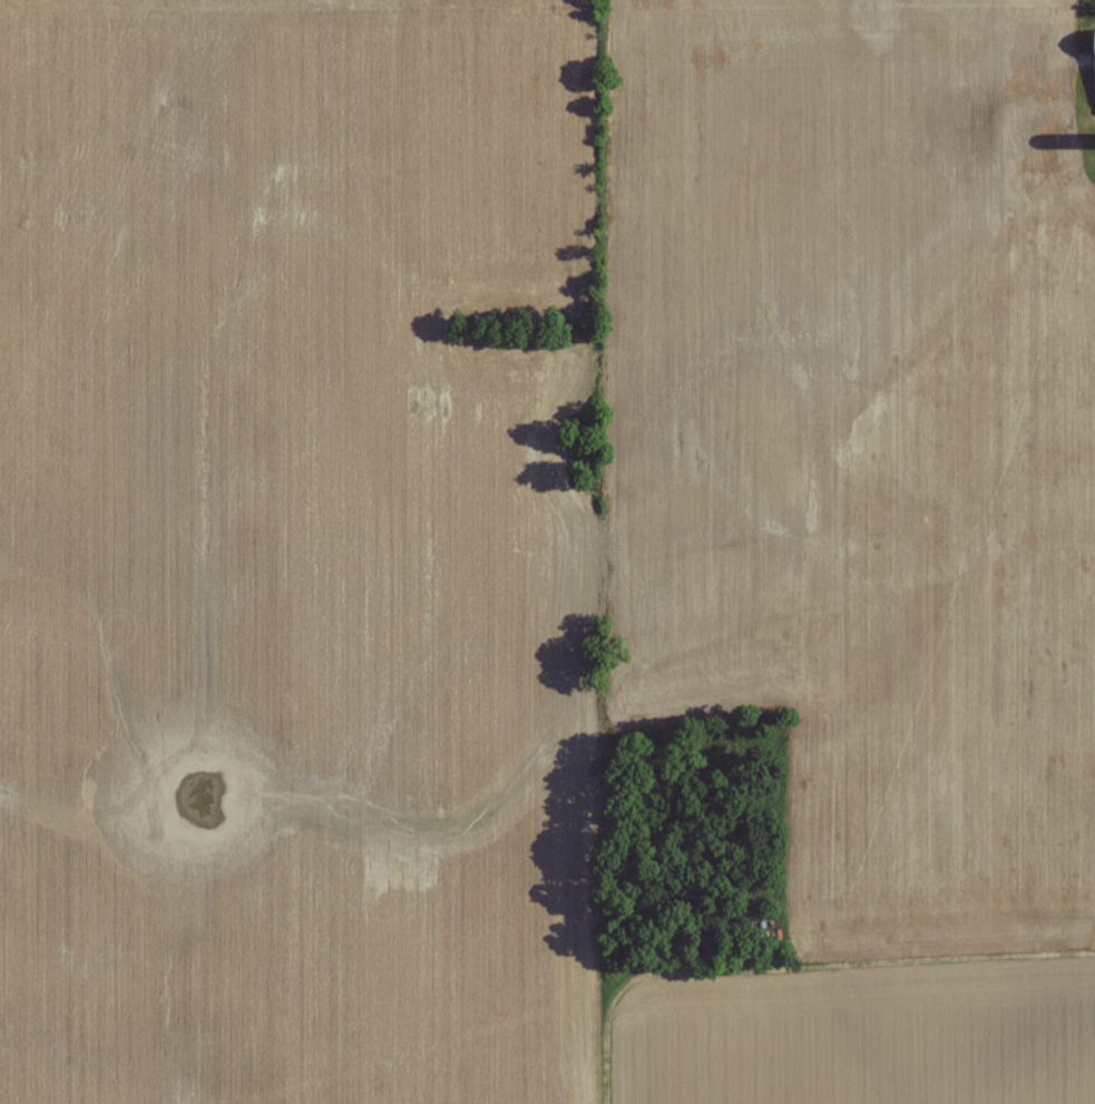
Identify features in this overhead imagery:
crop: (868, 440)
crop: (295, 551)
crop: (853, 1026)

